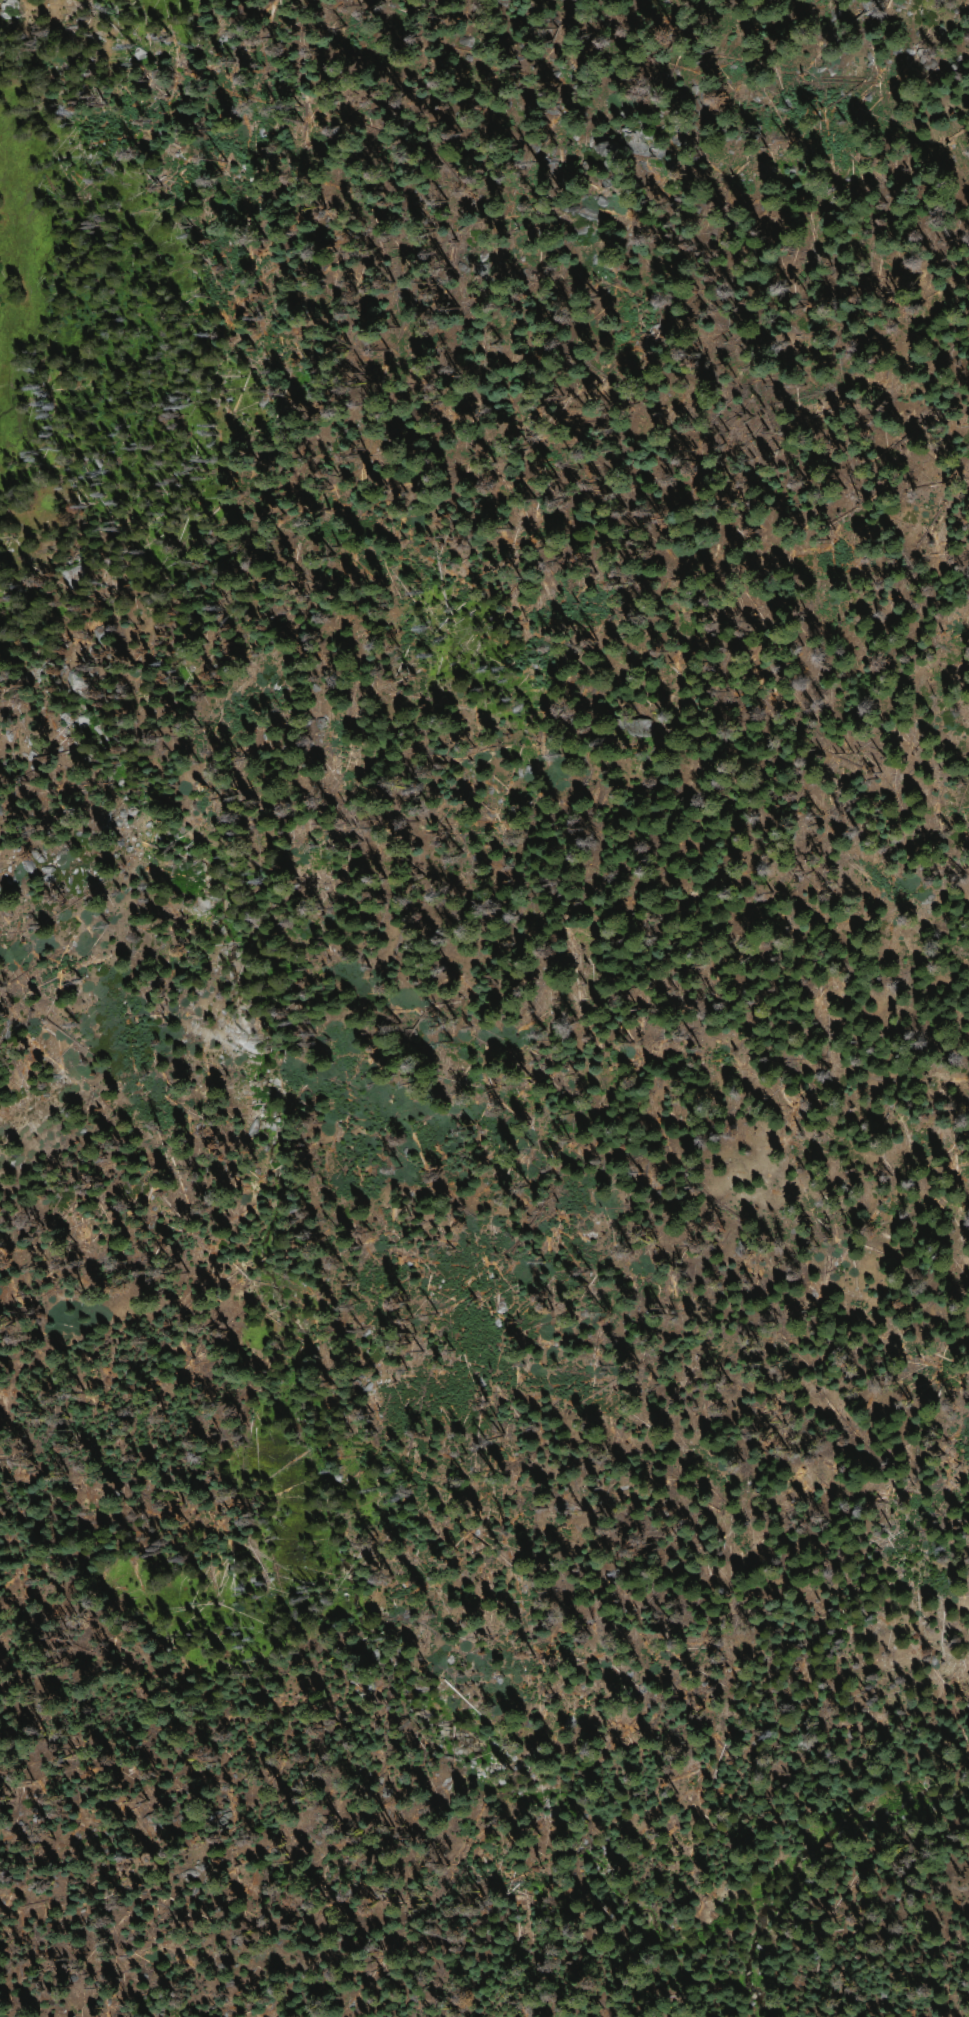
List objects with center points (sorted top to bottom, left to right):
road: (530, 1297)

